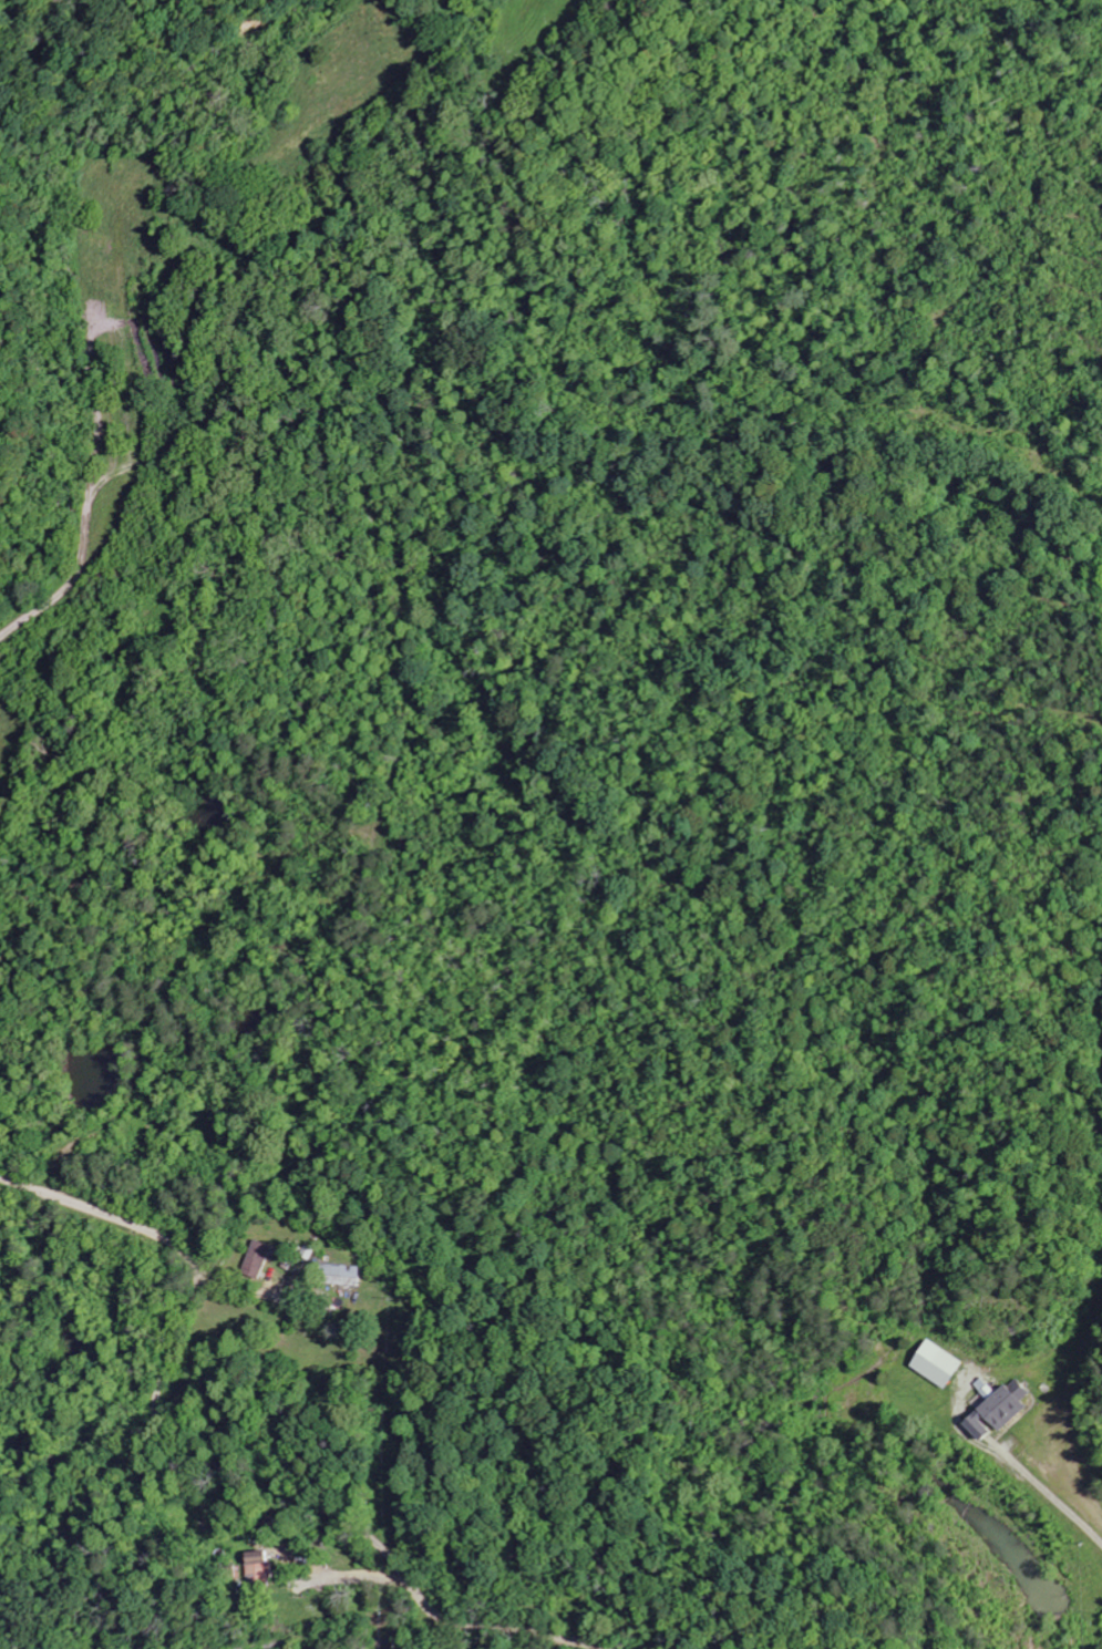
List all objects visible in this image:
building: (256, 1259)
building: (338, 1276)
building: (934, 1364)
building: (996, 1411)
road: (216, 1468)
building: (256, 1569)
road: (307, 1606)

